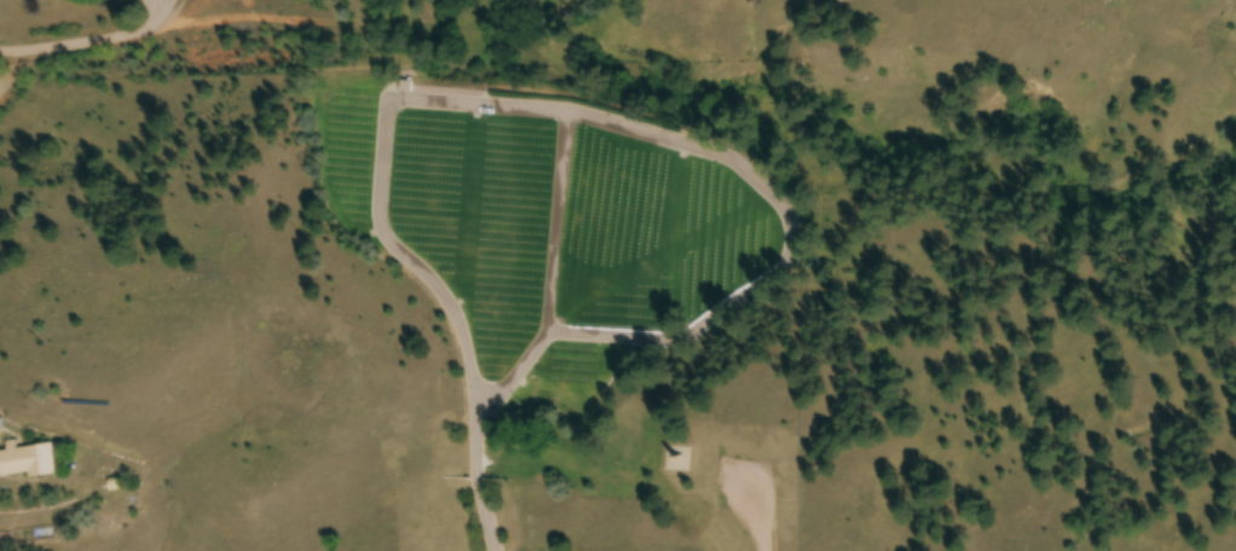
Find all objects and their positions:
building: (405, 87)
road: (669, 140)
road: (556, 219)
park: (565, 306)
flagpole: (515, 420)
building: (25, 462)
road: (481, 514)
road: (757, 521)

